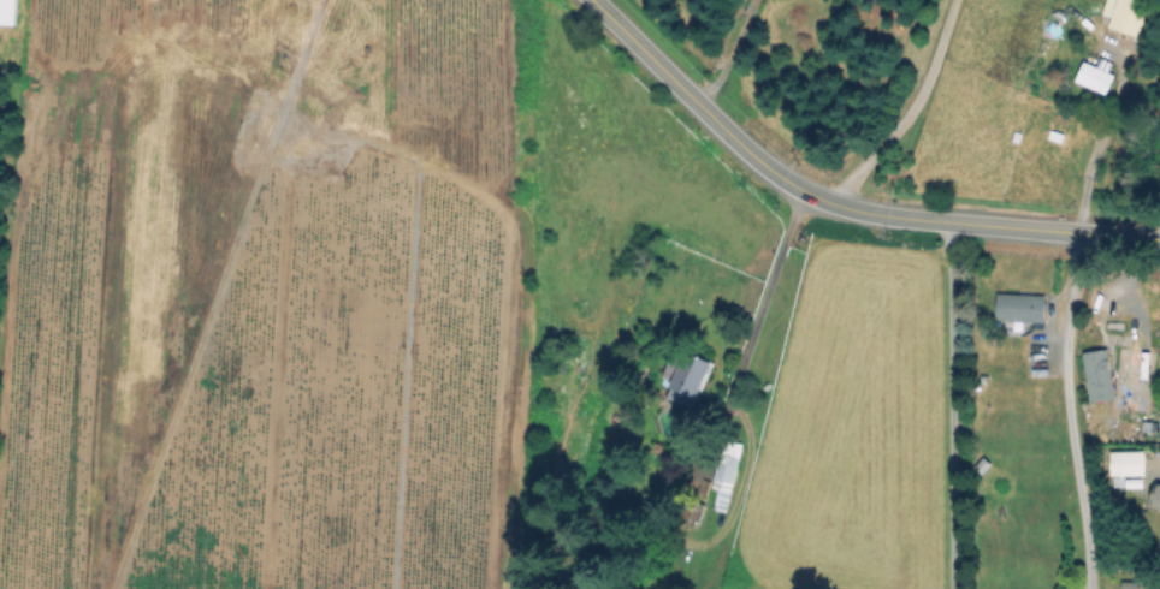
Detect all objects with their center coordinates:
building: (8, 12)
building: (1129, 16)
road: (726, 50)
building: (1097, 75)
road: (907, 109)
road: (840, 204)
building: (1020, 308)
building: (686, 374)
building: (1099, 374)
road: (738, 375)
road: (951, 405)
road: (1070, 410)
building: (983, 465)
building: (726, 471)
building: (1155, 500)
building: (694, 512)

